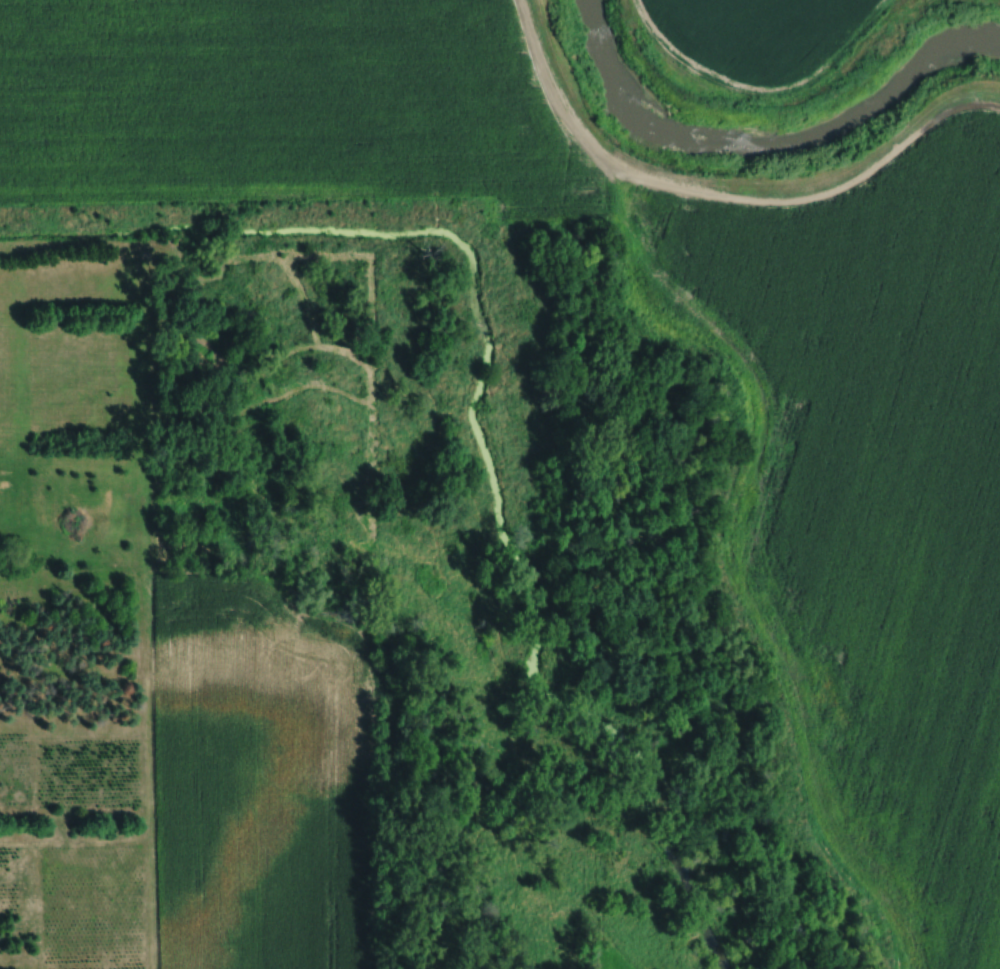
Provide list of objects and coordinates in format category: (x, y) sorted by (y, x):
river: (770, 145)

